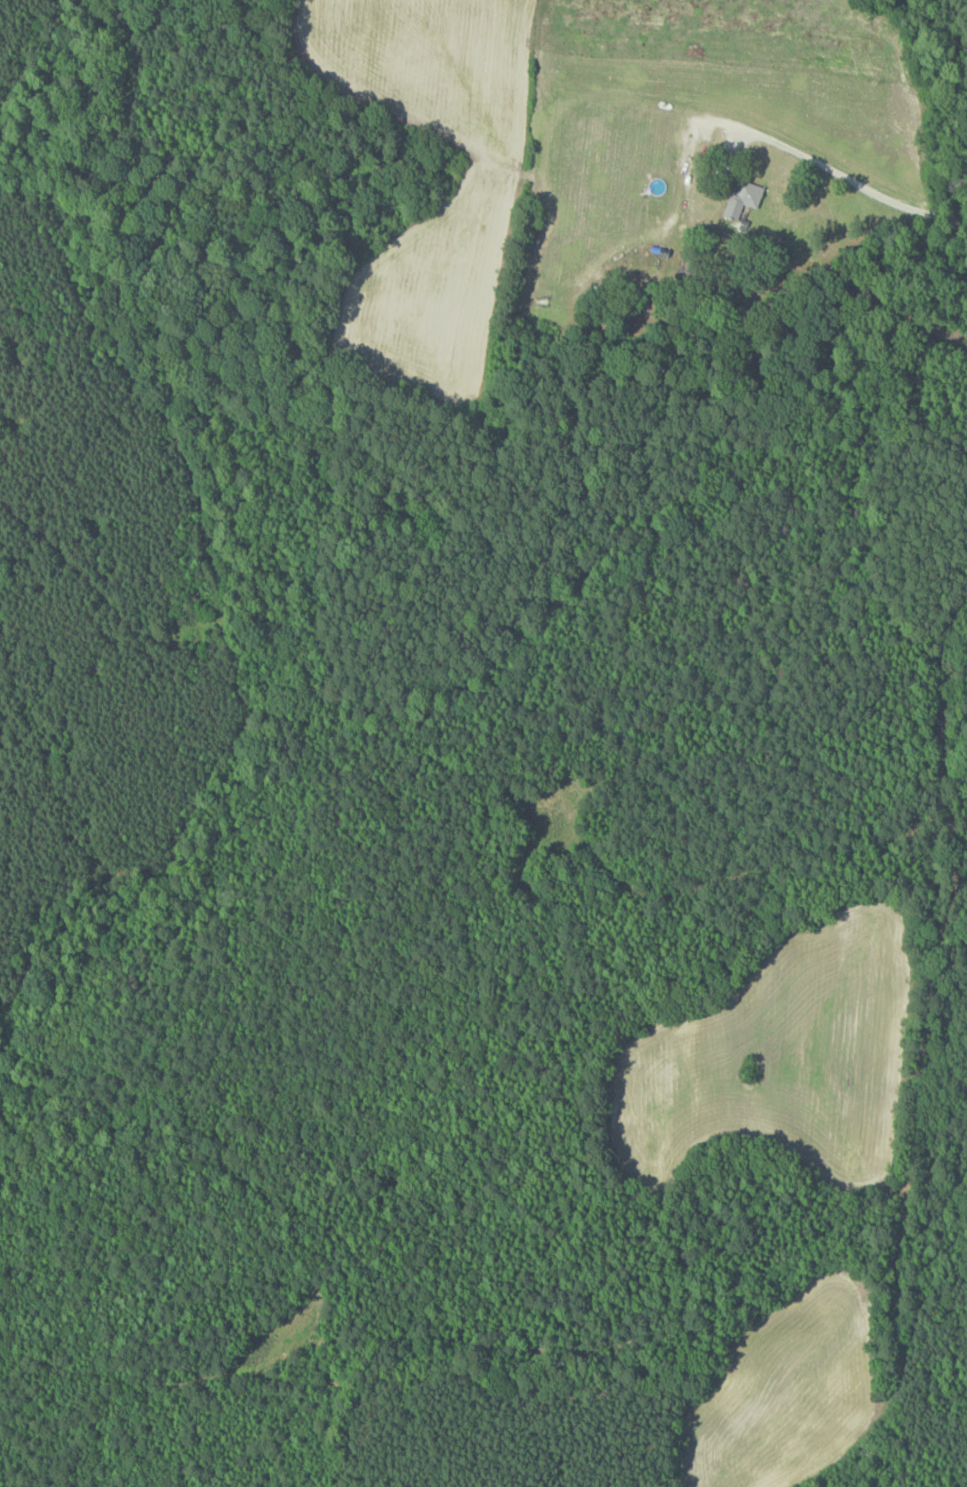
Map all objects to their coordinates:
road: (793, 148)
building: (741, 200)

